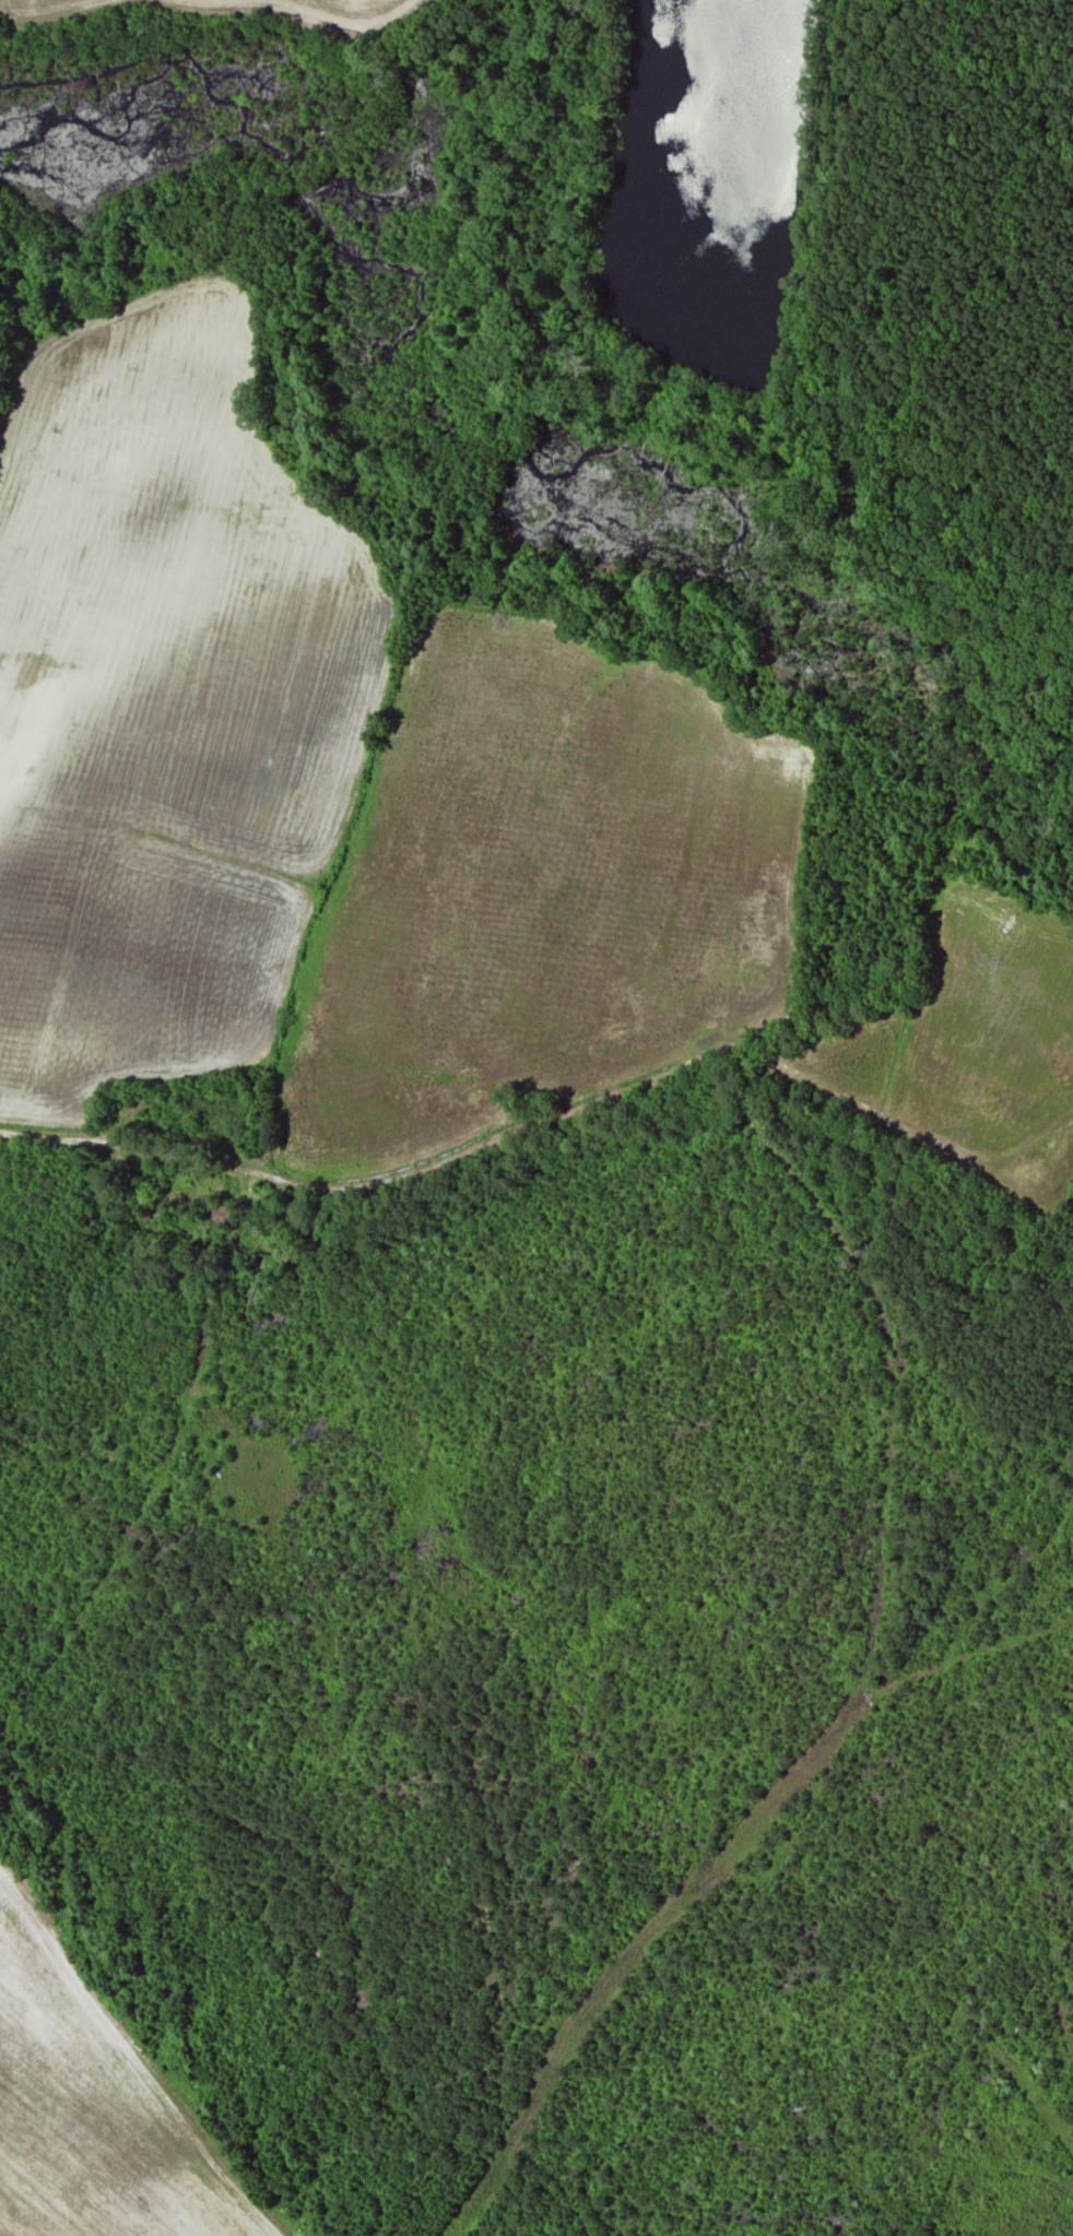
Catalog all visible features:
road: (64, 1143)
road: (138, 2058)

